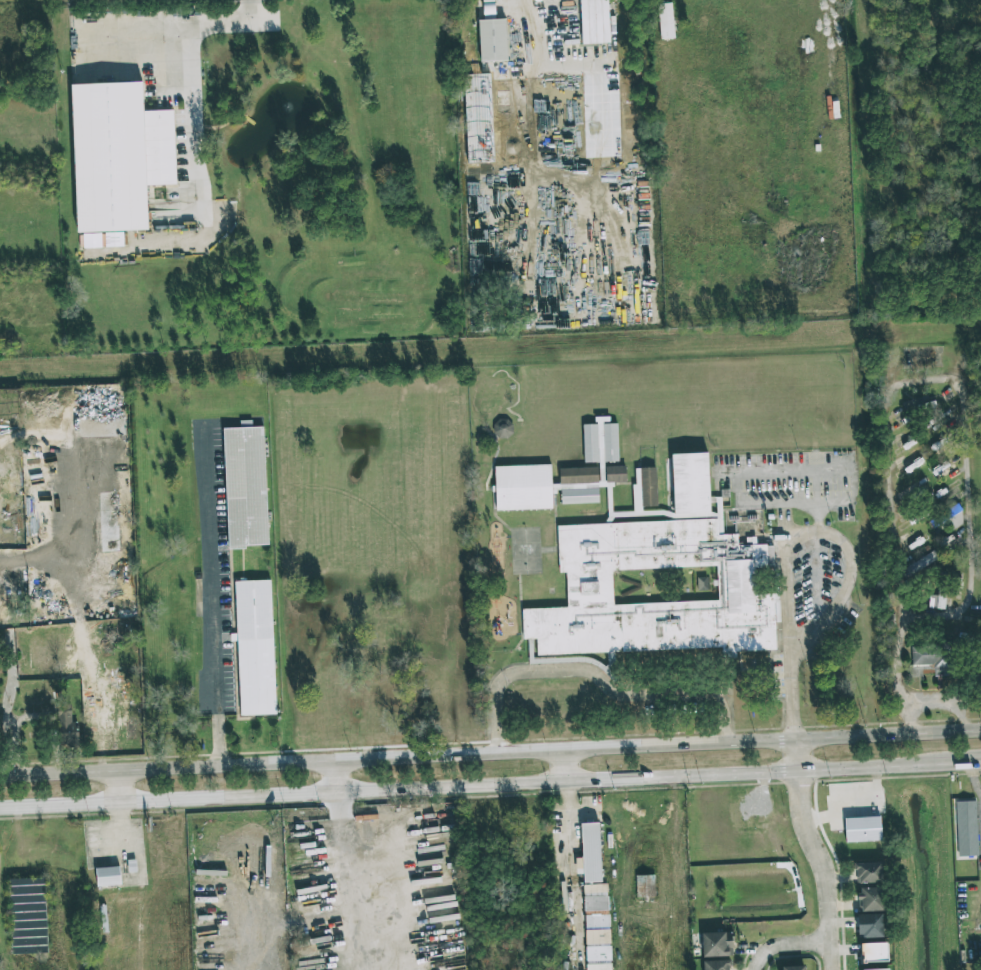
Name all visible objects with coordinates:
building: (665, 21)
building: (594, 22)
road: (533, 31)
building: (492, 40)
road: (197, 113)
building: (118, 155)
road: (895, 384)
building: (501, 429)
building: (910, 464)
building: (618, 475)
building: (580, 476)
building: (248, 487)
building: (651, 487)
building: (526, 488)
building: (949, 519)
building: (661, 556)
building: (919, 564)
road: (782, 592)
road: (218, 594)
building: (937, 601)
road: (832, 616)
building: (255, 649)
building: (933, 658)
road: (598, 677)
road: (942, 702)
road: (5, 722)
building: (66, 725)
road: (490, 752)
road: (794, 756)
road: (561, 766)
road: (954, 767)
road: (331, 777)
road: (975, 780)
road: (117, 788)
road: (464, 788)
building: (965, 827)
building: (862, 829)
building: (591, 852)
road: (821, 869)
building: (867, 872)
building: (107, 876)
road: (356, 881)
building: (870, 899)
building: (28, 916)
building: (870, 925)
building: (597, 927)
road: (783, 943)
building: (717, 944)
building: (874, 952)
building: (715, 965)
building: (792, 968)
building: (880, 969)

